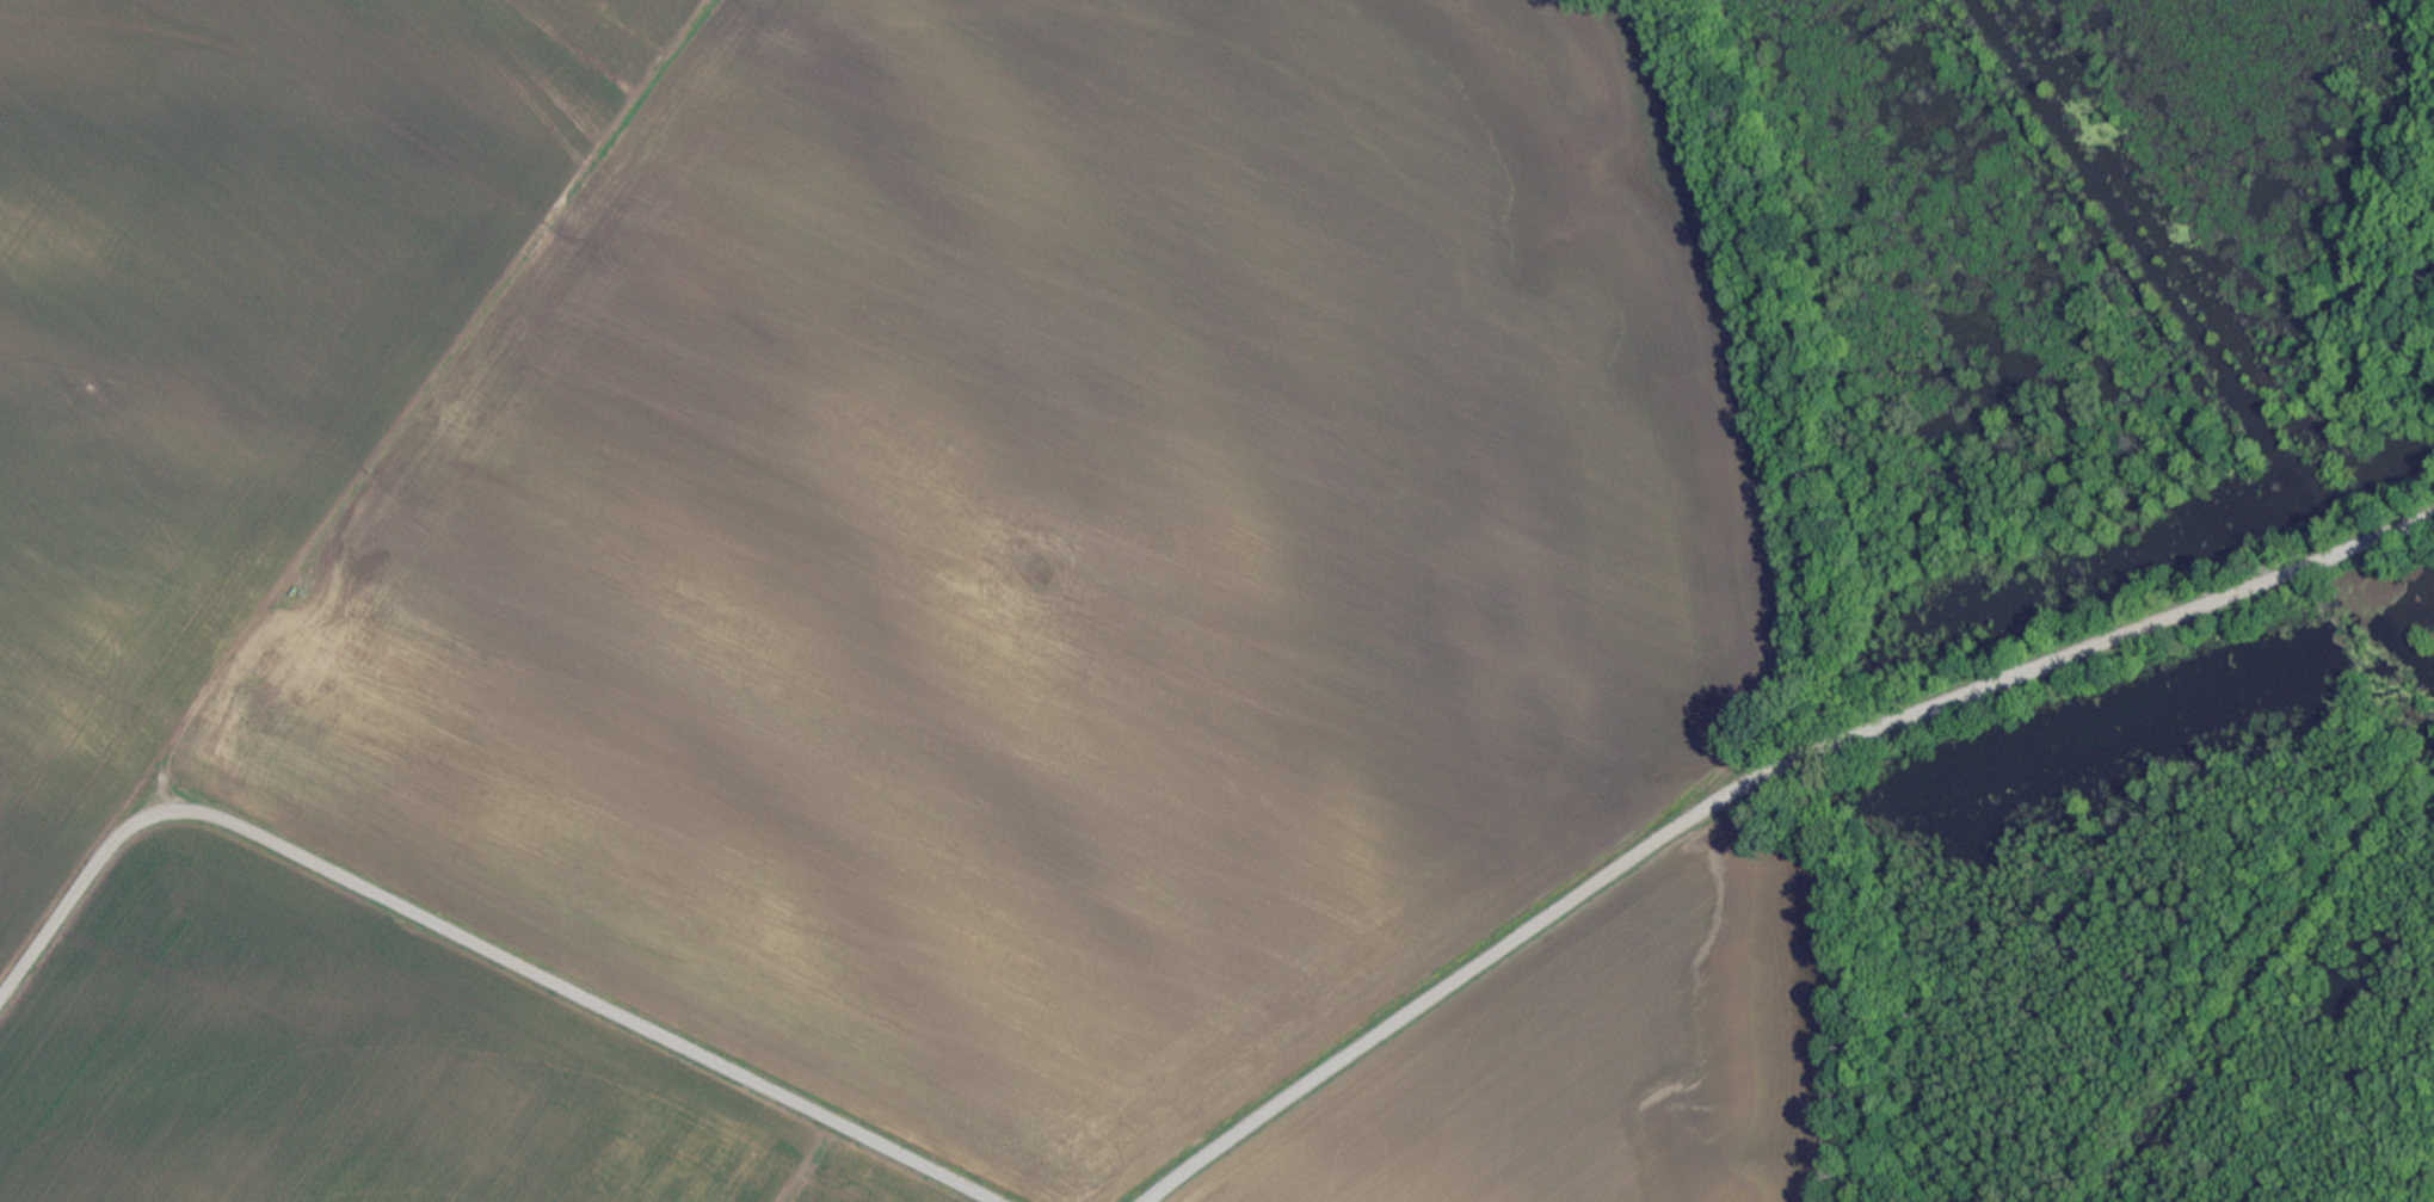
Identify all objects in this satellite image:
road: (1752, 788)
road: (468, 941)
road: (2257, 961)

